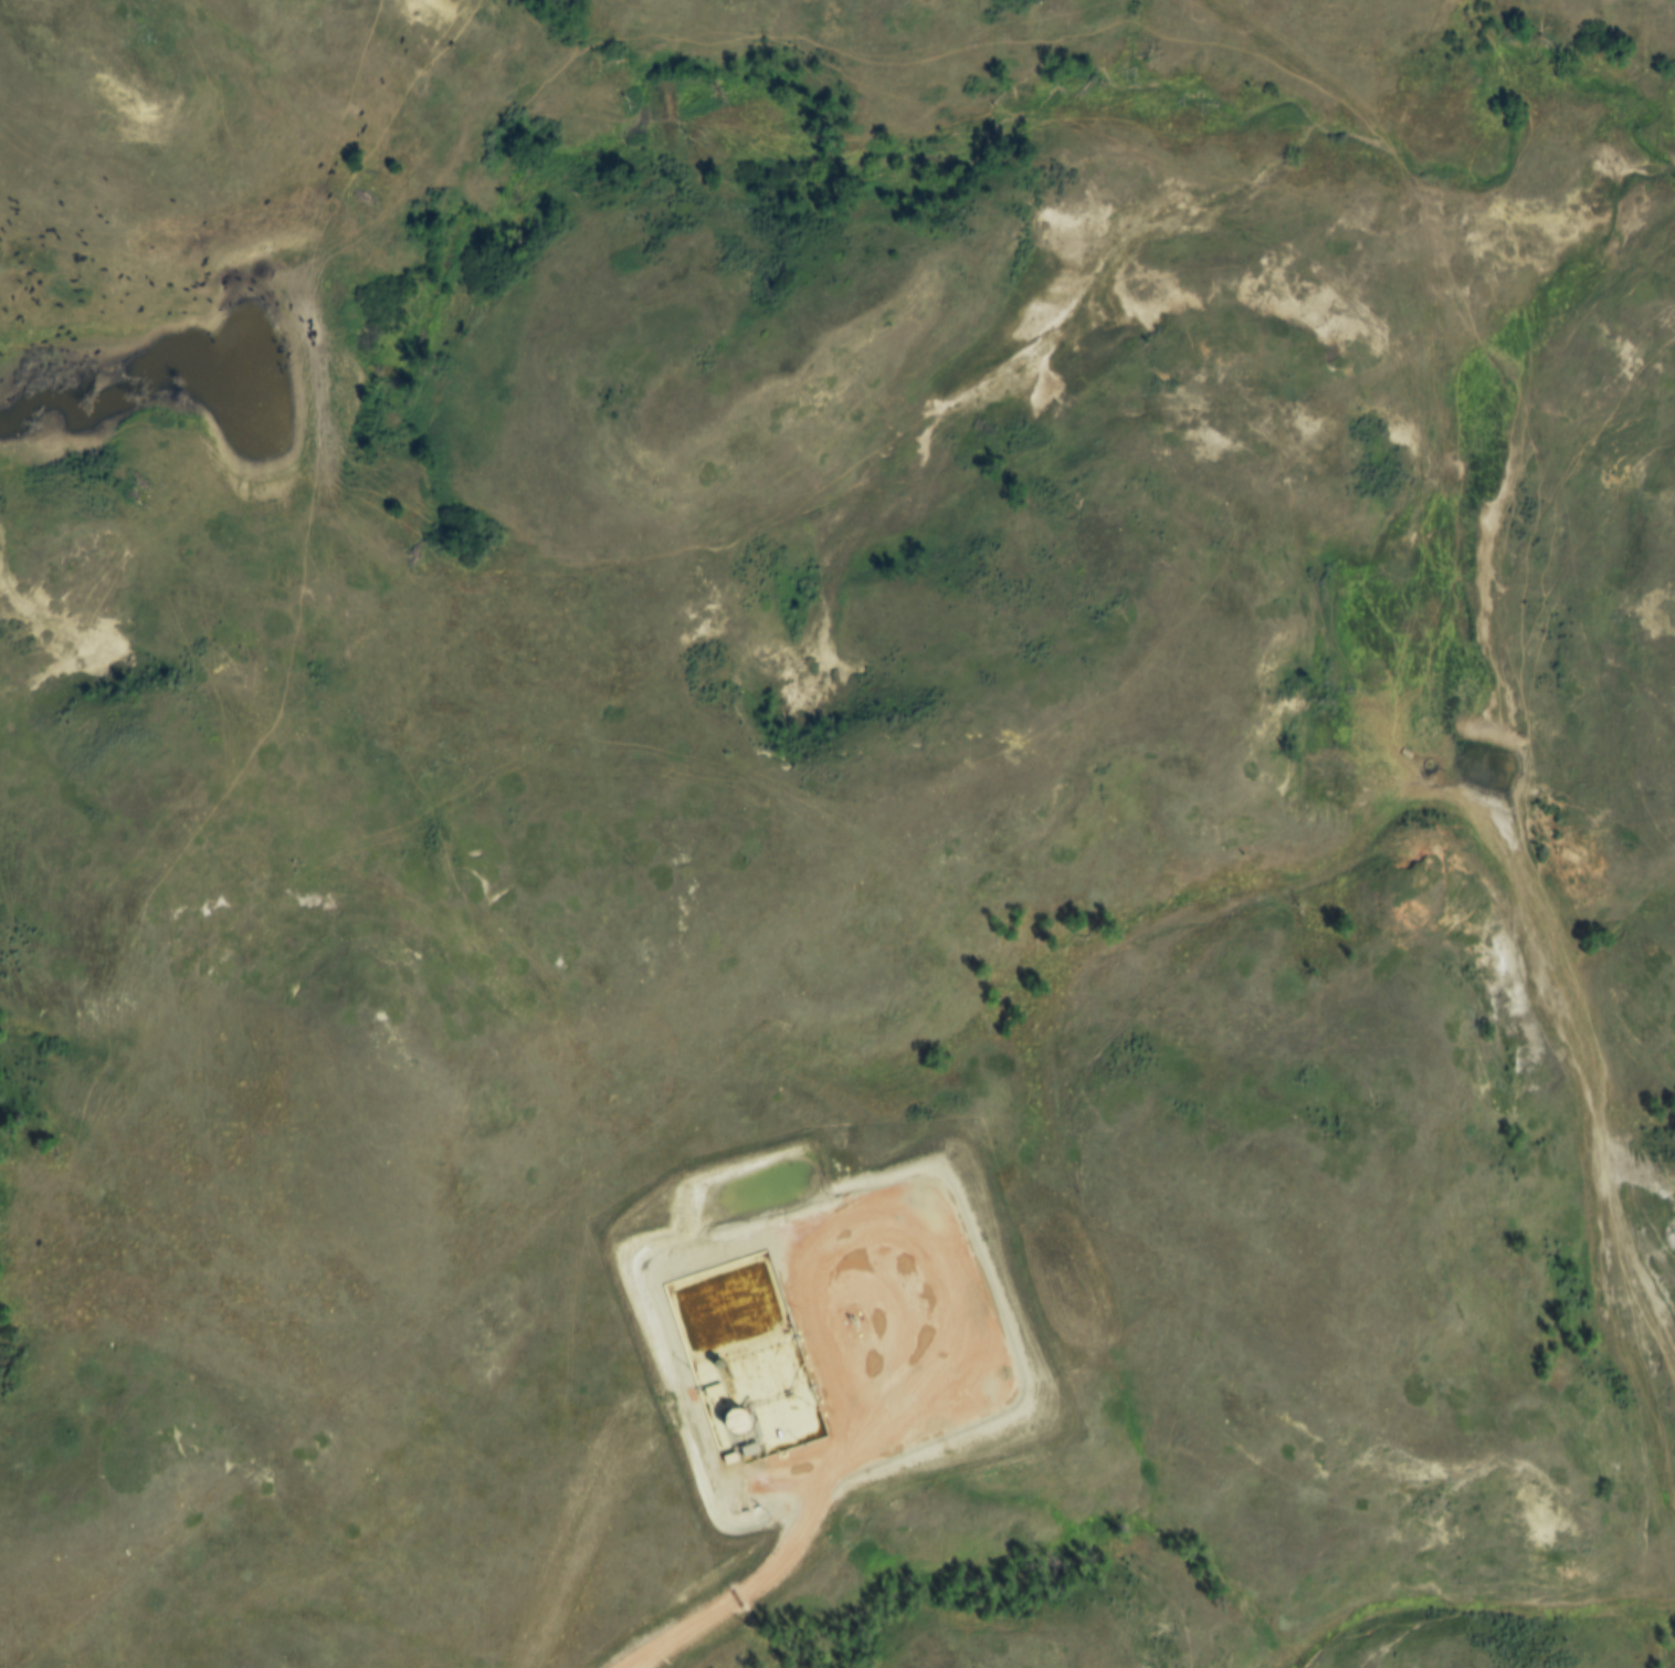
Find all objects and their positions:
road: (883, 1219)
building: (747, 1448)
building: (726, 1457)
road: (758, 1576)

